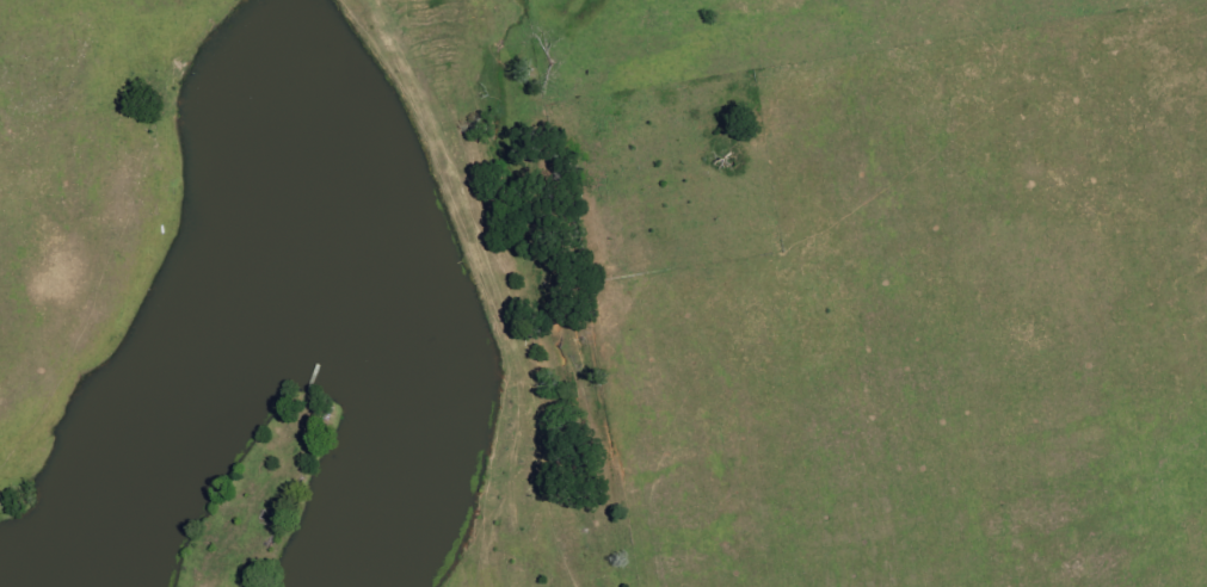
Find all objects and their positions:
road: (572, 288)

